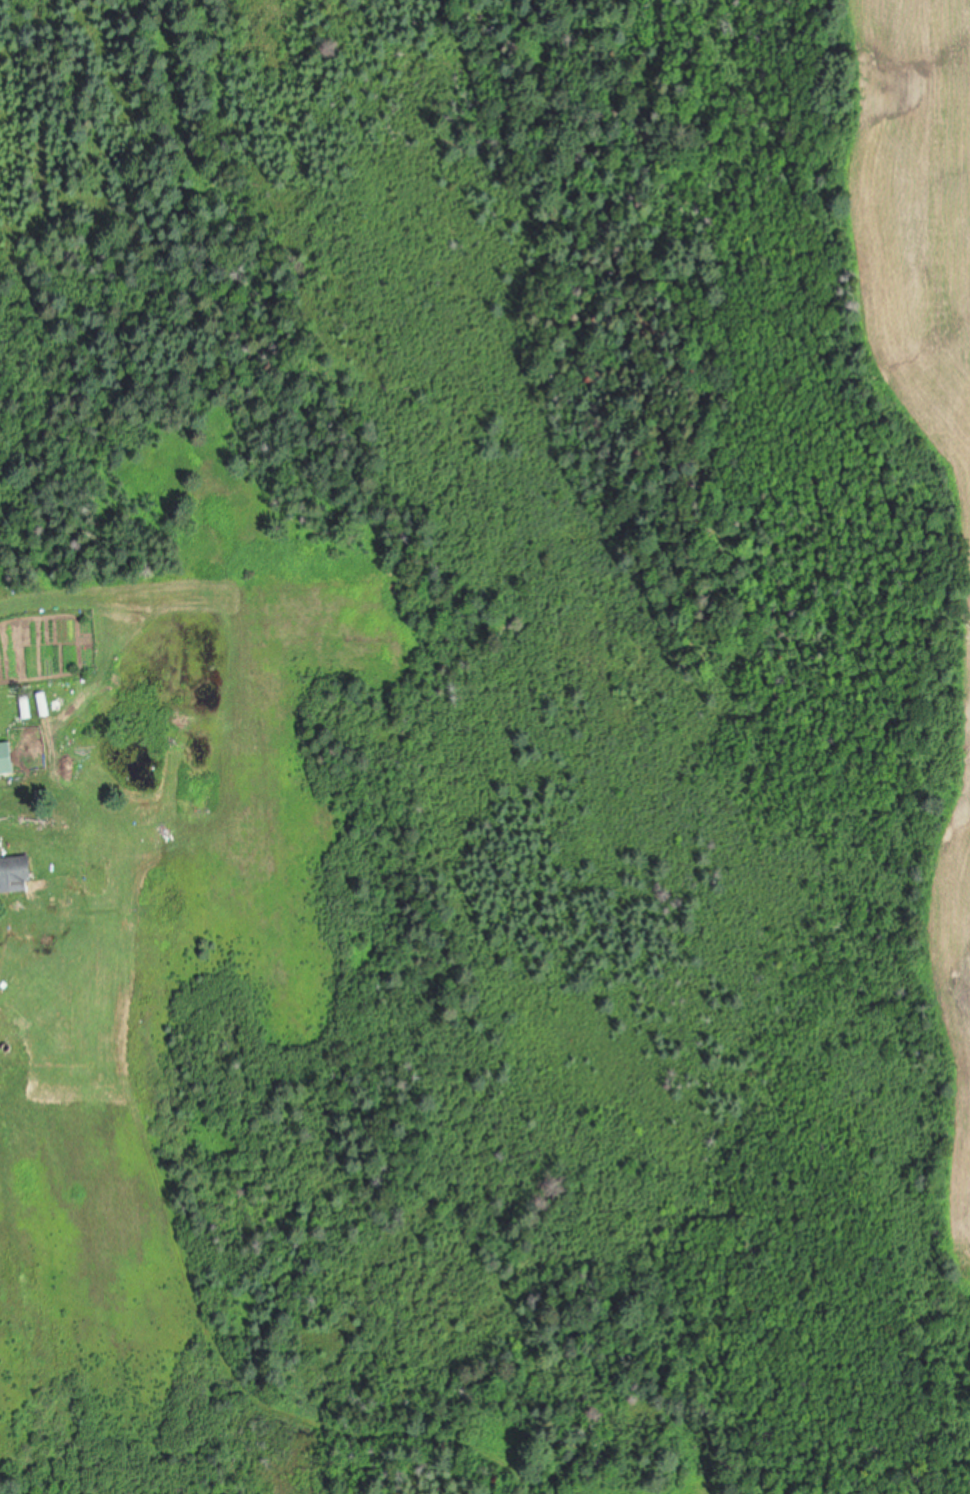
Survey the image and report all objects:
building: (8, 757)
building: (17, 871)

